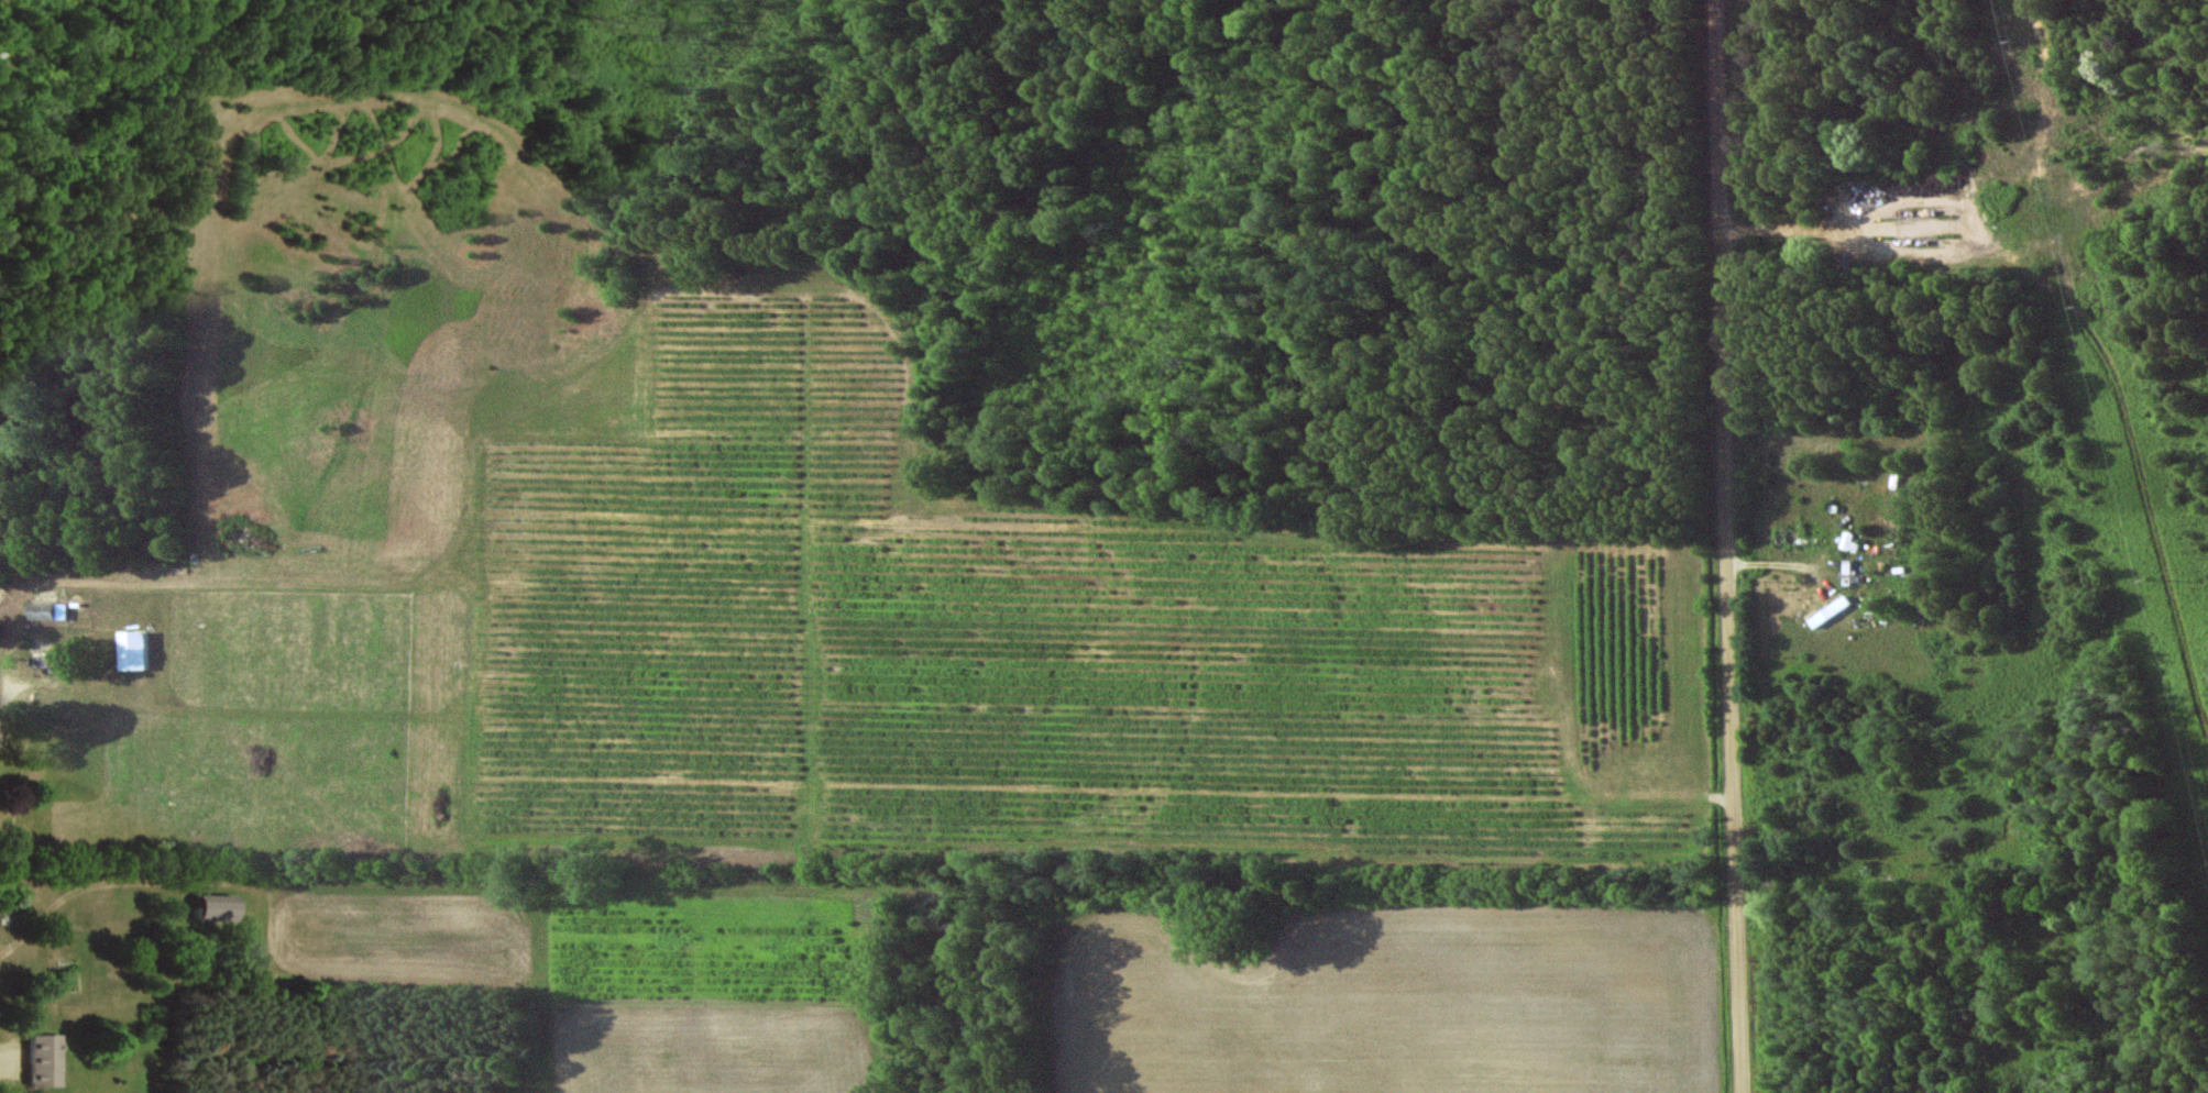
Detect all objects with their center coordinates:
building: (1848, 542)
road: (1727, 545)
building: (52, 611)
building: (138, 651)
road: (14, 688)
building: (220, 907)
building: (46, 1060)

